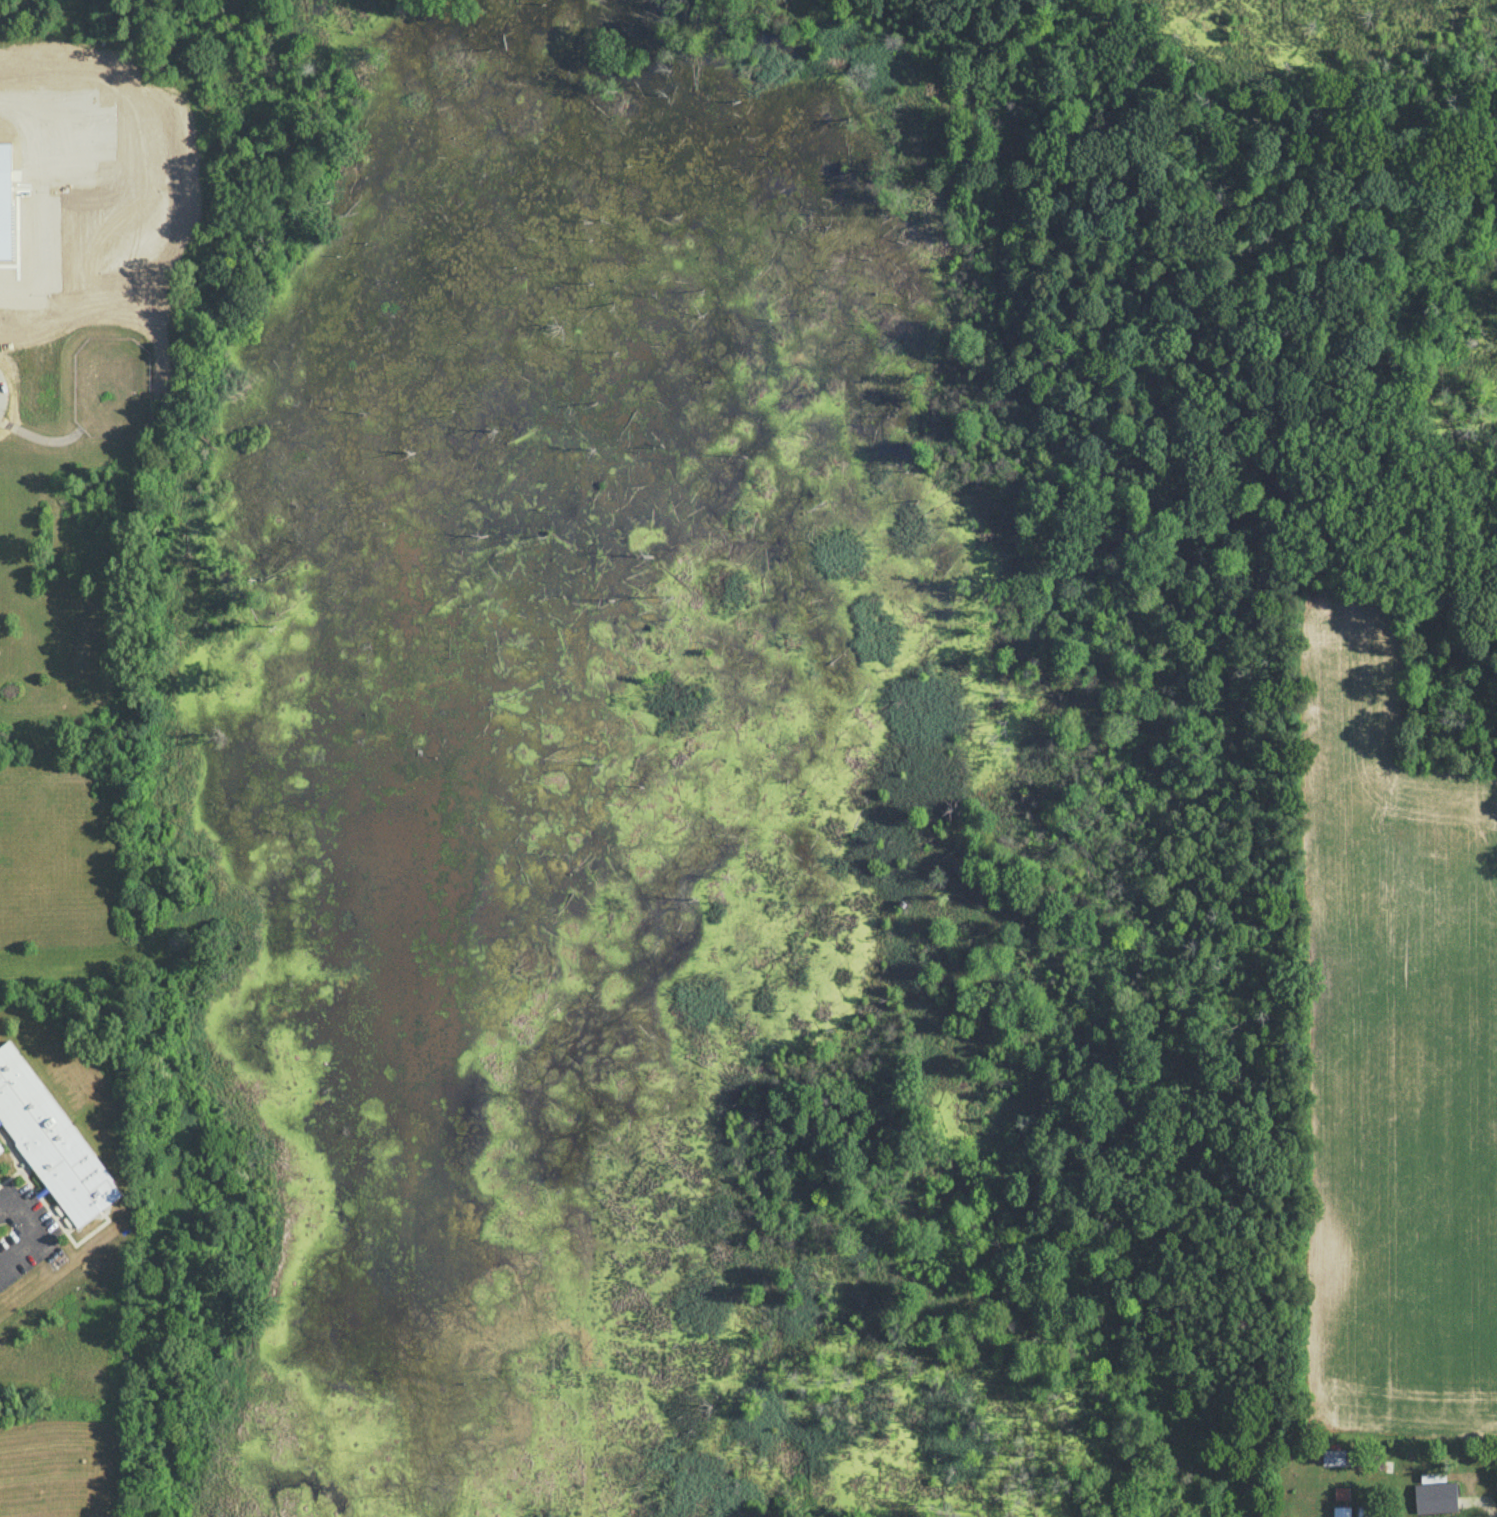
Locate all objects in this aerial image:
building: (51, 1141)
building: (0, 1148)
road: (36, 1230)
building: (1333, 1457)
building: (1341, 1493)
building: (1435, 1497)
road: (1483, 1503)
building: (1341, 1511)
building: (1360, 1511)

